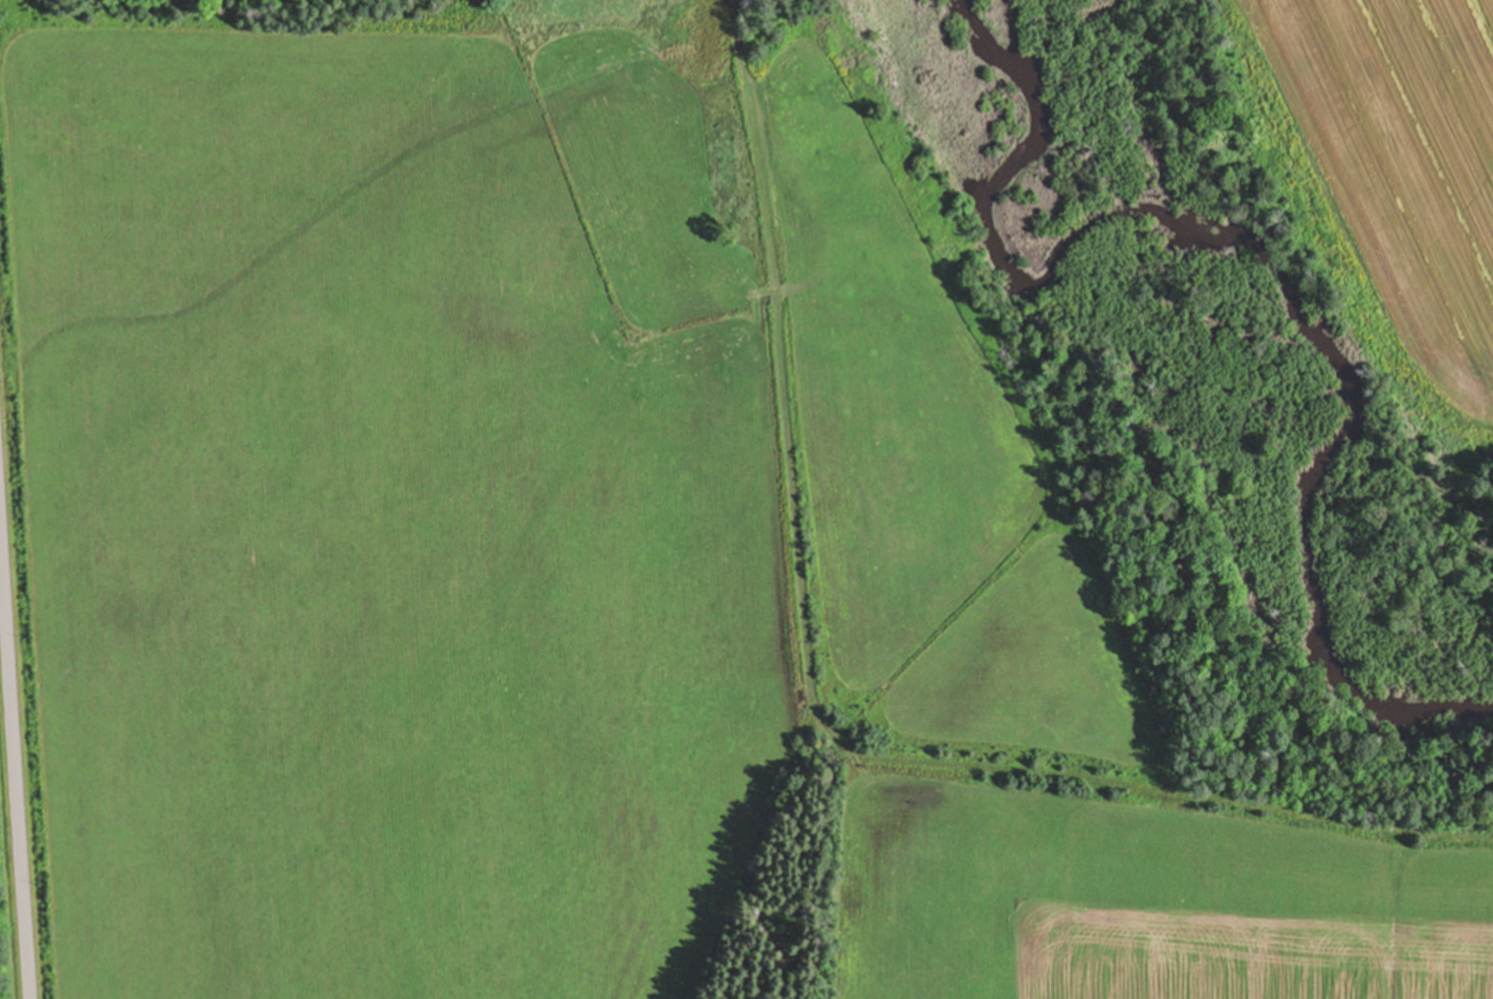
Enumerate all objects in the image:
river: (1275, 269)
road: (783, 357)
road: (13, 775)

